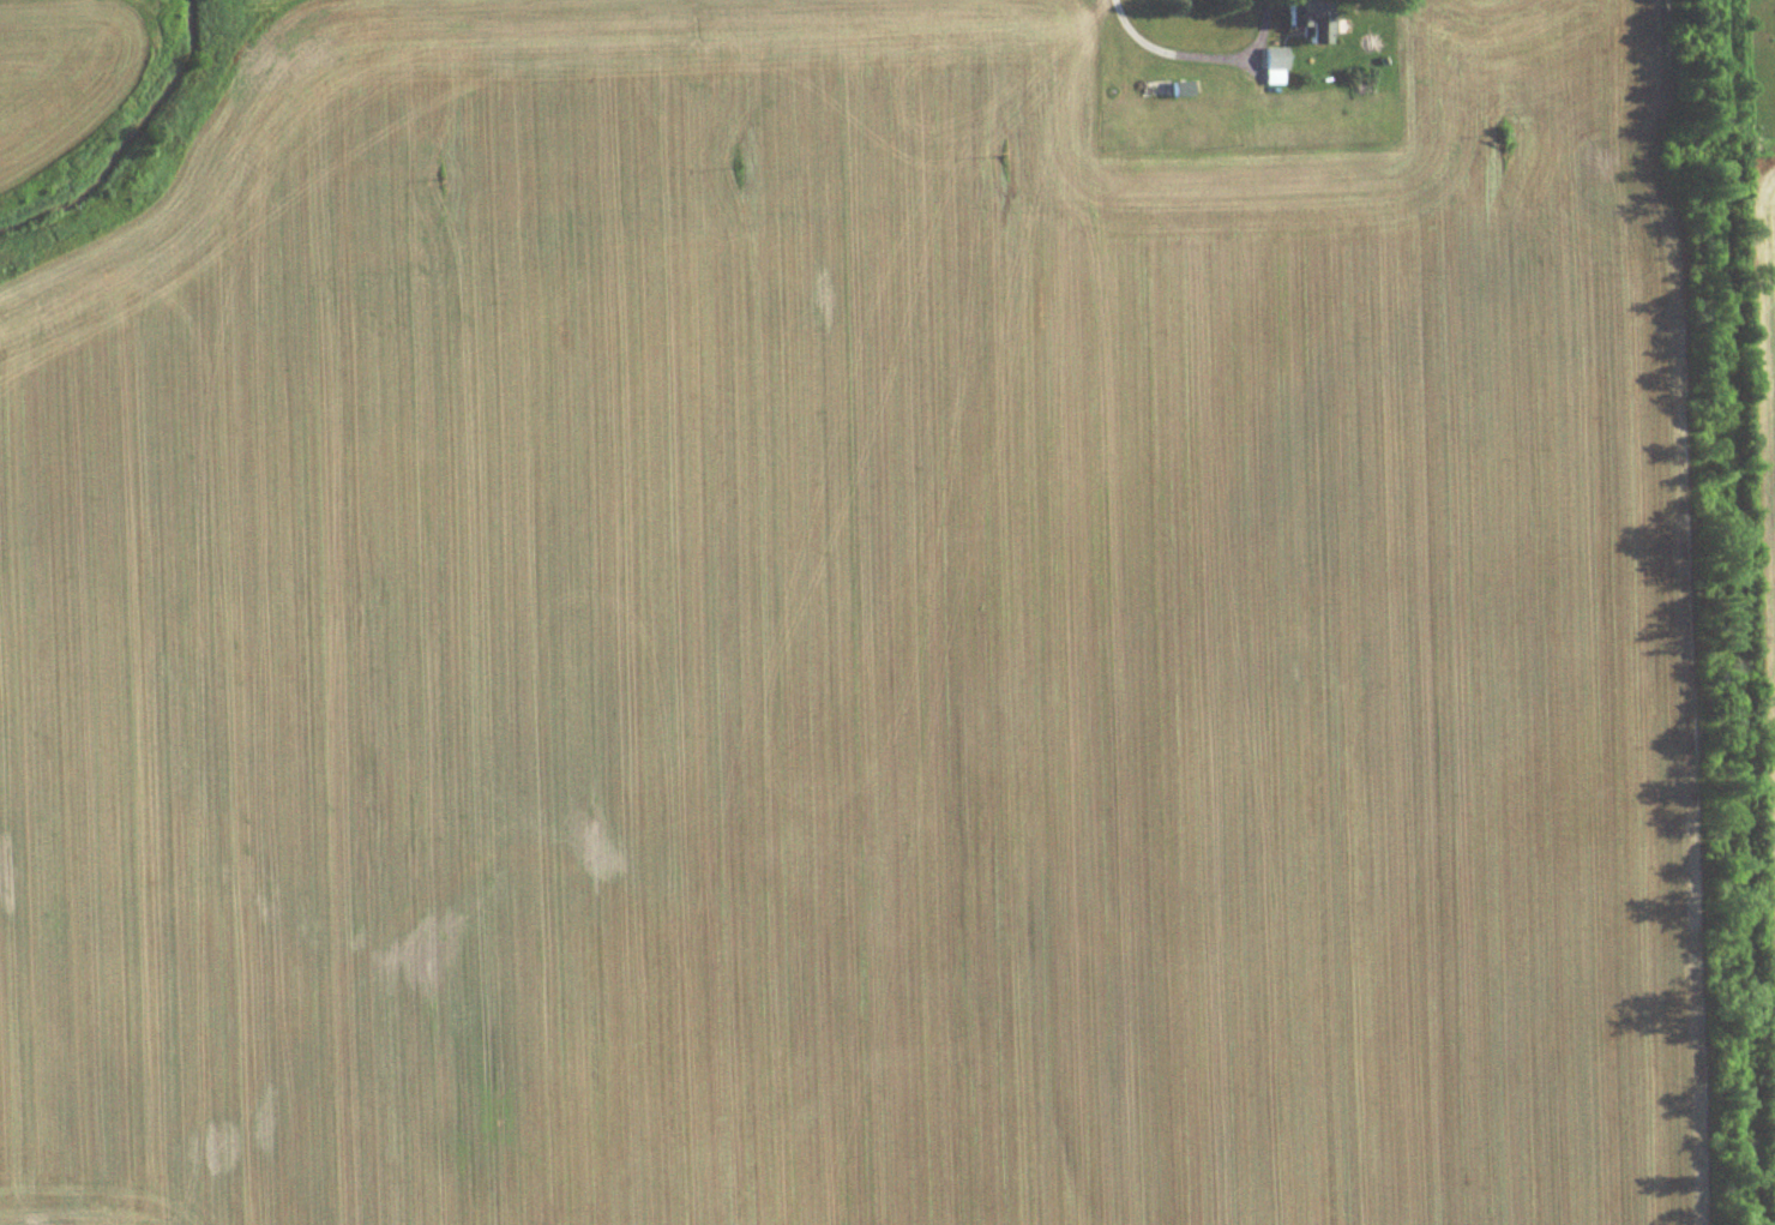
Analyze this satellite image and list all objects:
building: (1276, 62)
park: (1757, 72)
building: (1184, 86)

